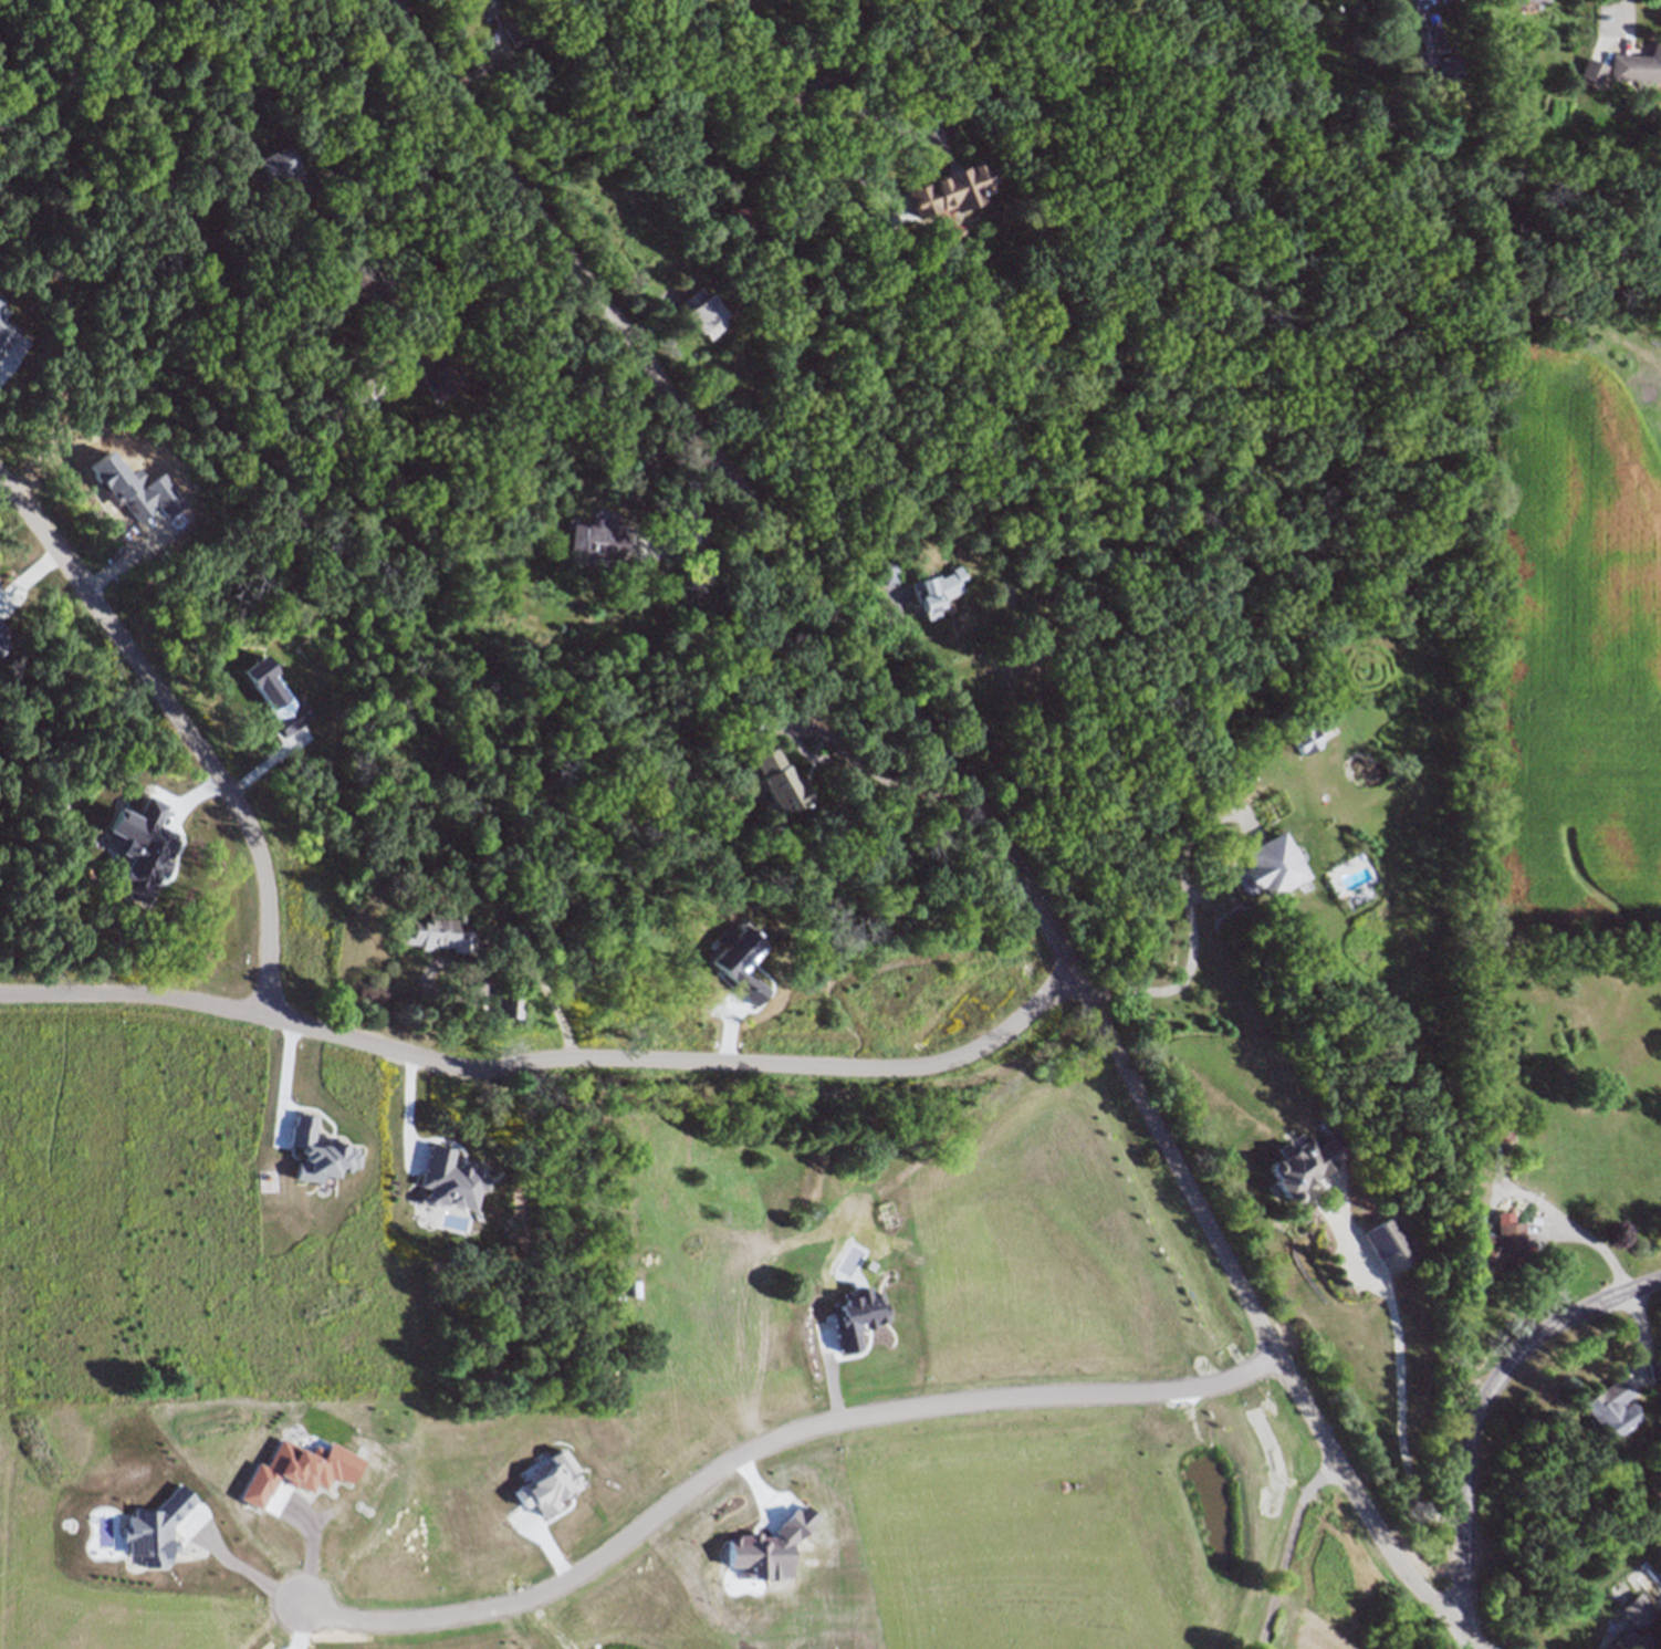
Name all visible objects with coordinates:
building: (7, 0)
building: (1443, 0)
building: (19, 1)
road: (1417, 1)
building: (1524, 1)
building: (1513, 2)
building: (484, 6)
road: (1619, 14)
building: (39, 20)
building: (518, 30)
building: (1429, 52)
building: (1636, 65)
building: (1588, 71)
building: (1576, 93)
building: (788, 97)
road: (844, 111)
road: (869, 114)
road: (944, 136)
road: (409, 164)
building: (290, 177)
building: (949, 190)
building: (715, 201)
building: (744, 222)
building: (951, 233)
building: (220, 241)
building: (373, 279)
road: (477, 286)
building: (701, 312)
building: (445, 368)
building: (364, 393)
road: (637, 473)
building: (685, 525)
building: (598, 539)
building: (886, 572)
building: (690, 586)
building: (1005, 587)
building: (938, 592)
crop: (1564, 594)
building: (1002, 598)
road: (184, 728)
building: (1302, 739)
road: (835, 755)
building: (775, 780)
road: (972, 803)
building: (1271, 866)
building: (438, 935)
road: (1178, 985)
road: (787, 996)
building: (510, 1001)
road: (546, 1057)
road: (283, 1084)
building: (1474, 1093)
building: (1495, 1128)
building: (670, 1148)
road: (934, 1150)
building: (1304, 1165)
building: (783, 1190)
road: (1588, 1238)
building: (1391, 1243)
building: (1498, 1249)
building: (708, 1266)
building: (835, 1275)
crop: (224, 1303)
building: (752, 1339)
building: (1648, 1370)
road: (1398, 1380)
road: (1481, 1406)
building: (1603, 1408)
road: (767, 1444)
road: (1285, 1547)
road: (239, 1566)
building: (1634, 1626)

